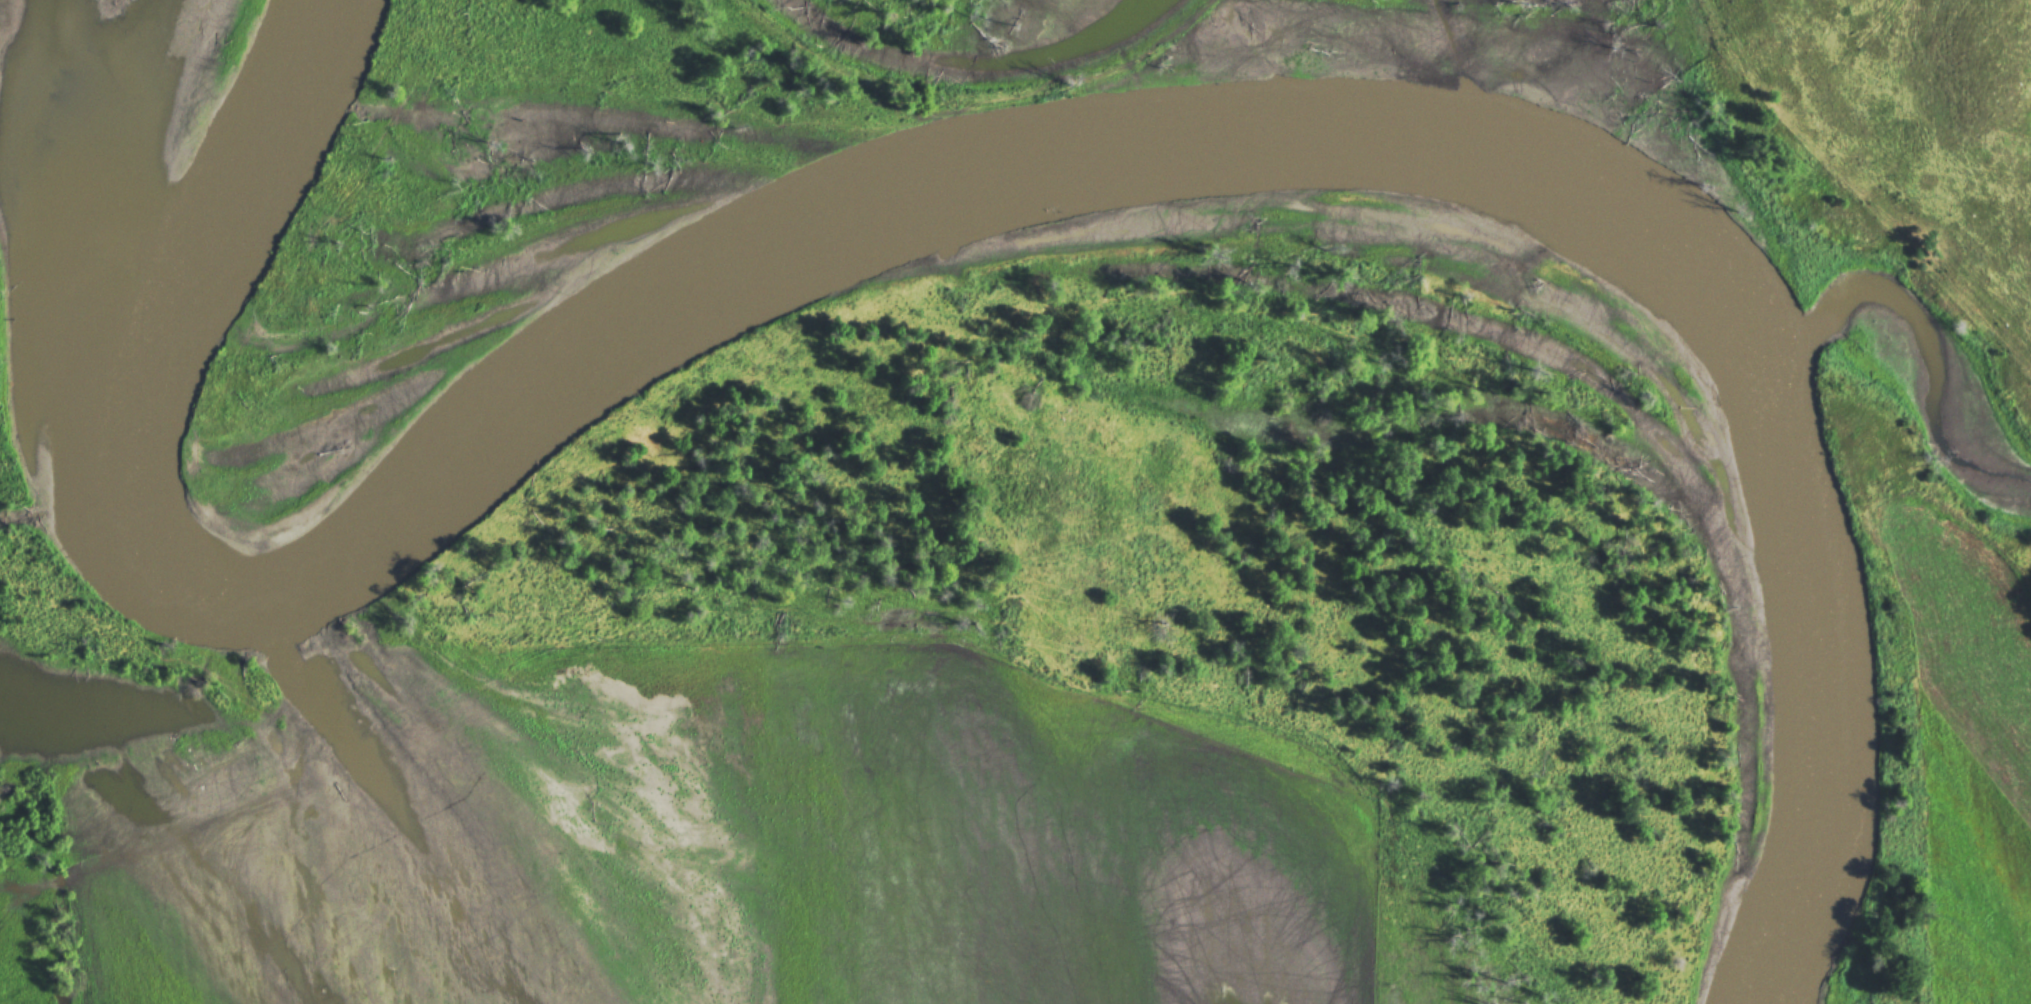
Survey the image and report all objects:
river: (974, 210)

